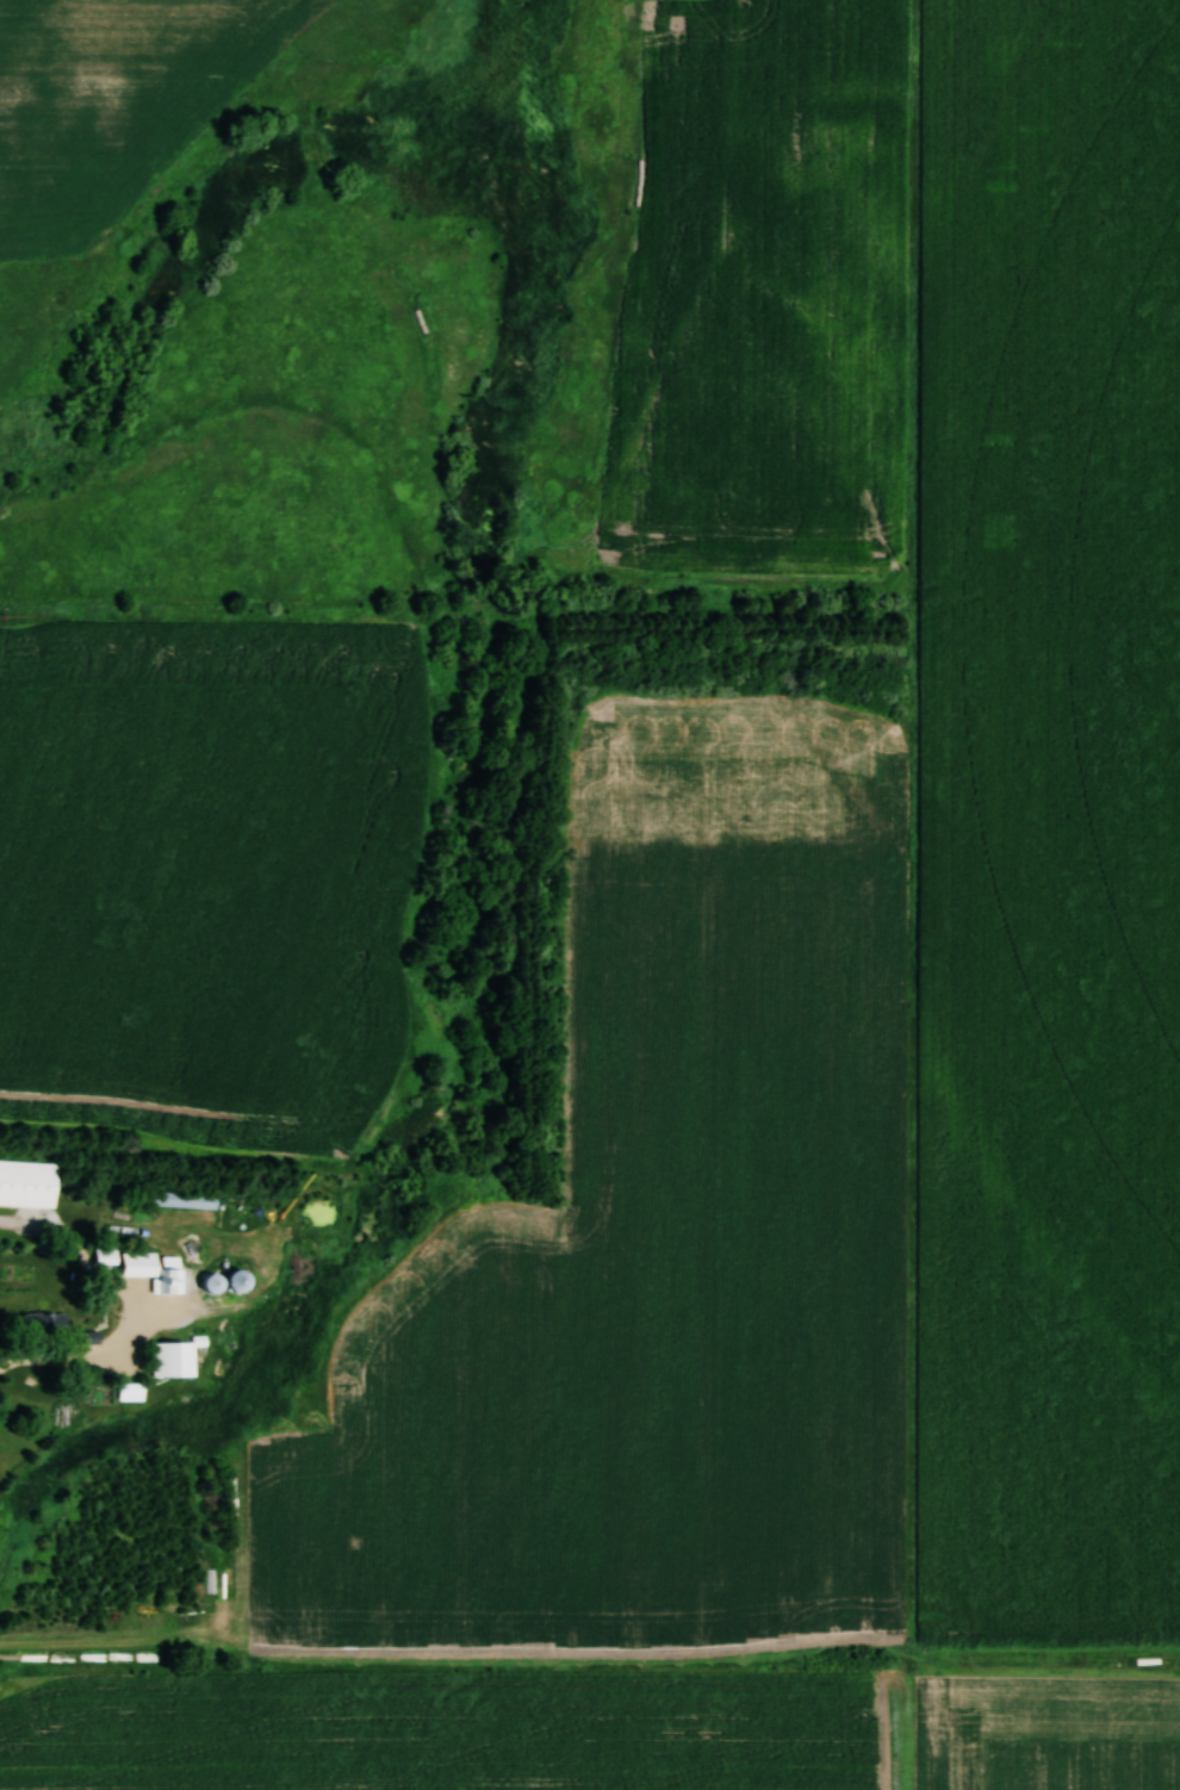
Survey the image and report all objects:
building: (24, 1183)
building: (184, 1200)
building: (148, 1272)
building: (231, 1281)
building: (42, 1324)
building: (170, 1360)
building: (128, 1392)

